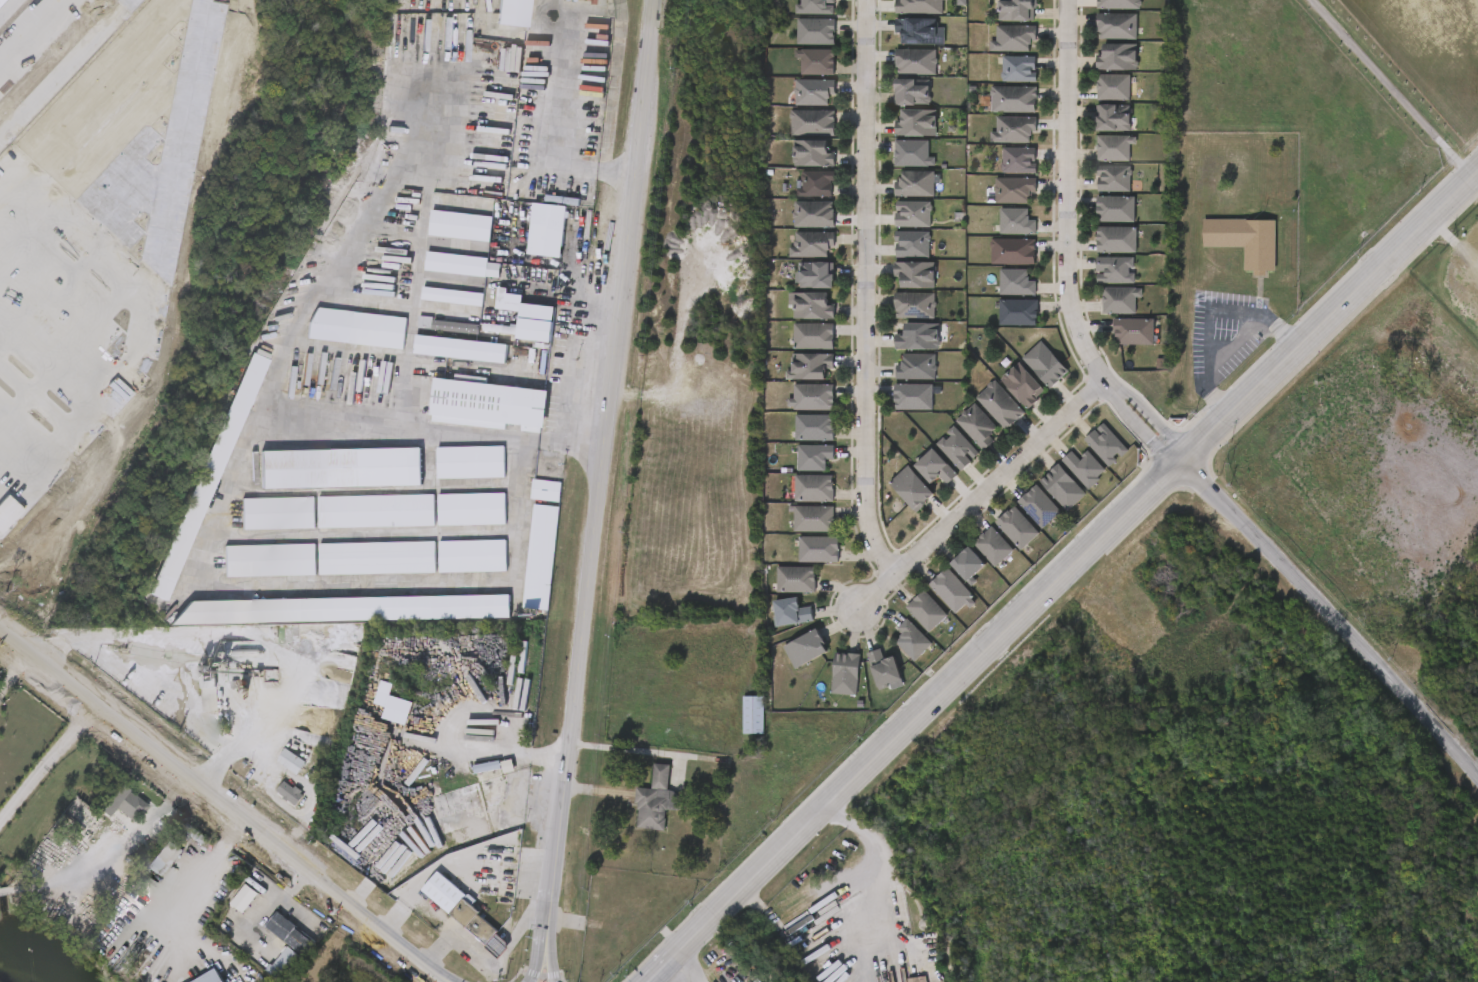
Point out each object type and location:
building: (1120, 4)
building: (919, 6)
building: (816, 7)
road: (9, 10)
building: (1017, 10)
building: (513, 12)
building: (798, 17)
building: (496, 20)
building: (1000, 22)
building: (1118, 26)
building: (918, 30)
building: (817, 32)
building: (1014, 38)
building: (1100, 42)
road: (42, 43)
building: (798, 47)
building: (901, 47)
building: (996, 54)
building: (1119, 57)
building: (914, 61)
building: (818, 62)
road: (65, 69)
building: (1019, 69)
building: (1101, 72)
building: (799, 77)
building: (898, 77)
building: (1002, 84)
building: (1114, 87)
road: (1392, 90)
building: (814, 91)
building: (911, 91)
building: (235, 95)
road: (91, 96)
building: (1013, 99)
building: (1096, 102)
building: (796, 107)
building: (895, 107)
building: (996, 114)
building: (1115, 118)
building: (813, 122)
building: (915, 122)
road: (564, 123)
building: (1014, 129)
building: (1096, 133)
building: (795, 138)
building: (899, 138)
building: (996, 145)
building: (1116, 148)
building: (911, 152)
building: (815, 154)
building: (1019, 159)
building: (1097, 163)
building: (795, 169)
building: (895, 169)
road: (96, 172)
building: (1001, 175)
building: (1115, 178)
building: (913, 183)
building: (816, 184)
building: (1014, 190)
building: (1096, 194)
road: (1066, 195)
building: (799, 199)
building: (898, 199)
building: (997, 205)
building: (1117, 209)
building: (814, 214)
building: (912, 214)
building: (1016, 221)
building: (1098, 224)
building: (548, 229)
building: (796, 229)
building: (896, 229)
building: (999, 237)
building: (1118, 239)
building: (443, 241)
building: (1244, 242)
building: (812, 243)
building: (912, 243)
building: (530, 245)
building: (1013, 251)
building: (1099, 254)
building: (1228, 256)
building: (794, 260)
building: (895, 260)
road: (85, 261)
building: (996, 267)
building: (1116, 270)
road: (150, 271)
building: (916, 274)
building: (816, 275)
building: (439, 279)
building: (1015, 282)
building: (1097, 285)
building: (899, 289)
building: (798, 290)
road: (864, 293)
building: (999, 298)
building: (1121, 300)
building: (915, 305)
building: (814, 306)
building: (435, 311)
building: (1018, 312)
building: (1103, 315)
building: (530, 317)
building: (897, 320)
building: (795, 321)
building: (1001, 328)
building: (1135, 331)
building: (513, 333)
building: (814, 335)
building: (918, 336)
building: (438, 342)
road: (76, 343)
building: (340, 343)
building: (483, 344)
building: (1117, 347)
building: (796, 351)
building: (901, 352)
building: (444, 364)
building: (1045, 364)
building: (812, 366)
building: (916, 366)
building: (793, 381)
building: (900, 382)
building: (1023, 384)
building: (814, 396)
building: (914, 397)
building: (491, 403)
building: (1000, 405)
building: (795, 412)
building: (896, 412)
road: (1149, 416)
building: (471, 420)
building: (815, 427)
building: (979, 427)
road: (1138, 427)
road: (436, 429)
road: (607, 430)
building: (797, 442)
building: (1107, 444)
building: (958, 448)
building: (814, 457)
building: (471, 461)
road: (35, 466)
building: (341, 468)
building: (936, 468)
building: (1086, 468)
building: (797, 472)
building: (453, 477)
building: (1064, 487)
building: (815, 488)
building: (913, 488)
building: (545, 489)
building: (190, 491)
road: (980, 499)
building: (797, 503)
building: (894, 503)
building: (528, 505)
building: (1041, 507)
building: (473, 508)
building: (377, 511)
building: (279, 512)
building: (814, 518)
building: (454, 524)
building: (359, 526)
building: (261, 528)
building: (1019, 529)
building: (796, 534)
building: (995, 547)
building: (819, 550)
building: (473, 555)
building: (540, 556)
building: (377, 558)
building: (269, 560)
building: (802, 564)
building: (972, 566)
building: (455, 571)
building: (523, 572)
building: (360, 573)
road: (1069, 573)
building: (253, 575)
building: (796, 580)
building: (953, 592)
building: (778, 594)
building: (345, 609)
building: (791, 609)
building: (928, 612)
road: (1333, 616)
building: (327, 624)
building: (909, 626)
building: (774, 627)
building: (913, 641)
building: (806, 644)
building: (895, 655)
building: (789, 664)
building: (886, 670)
road: (14, 671)
building: (847, 674)
building: (867, 684)
building: (828, 688)
road: (435, 701)
building: (754, 715)
building: (382, 719)
building: (736, 728)
road: (229, 747)
road: (626, 749)
road: (539, 756)
road: (47, 761)
building: (275, 776)
building: (470, 781)
building: (490, 781)
building: (656, 801)
road: (222, 803)
building: (273, 807)
building: (639, 815)
building: (107, 819)
road: (143, 824)
building: (167, 859)
road: (62, 878)
road: (194, 880)
building: (245, 899)
road: (859, 906)
road: (262, 910)
building: (228, 913)
road: (551, 921)
road: (546, 922)
building: (447, 927)
road: (863, 943)
building: (288, 946)
building: (272, 947)
road: (693, 963)
building: (268, 973)
road: (651, 976)
road: (656, 976)
building: (210, 977)
road: (445, 980)
road: (448, 980)
building: (760, 980)

